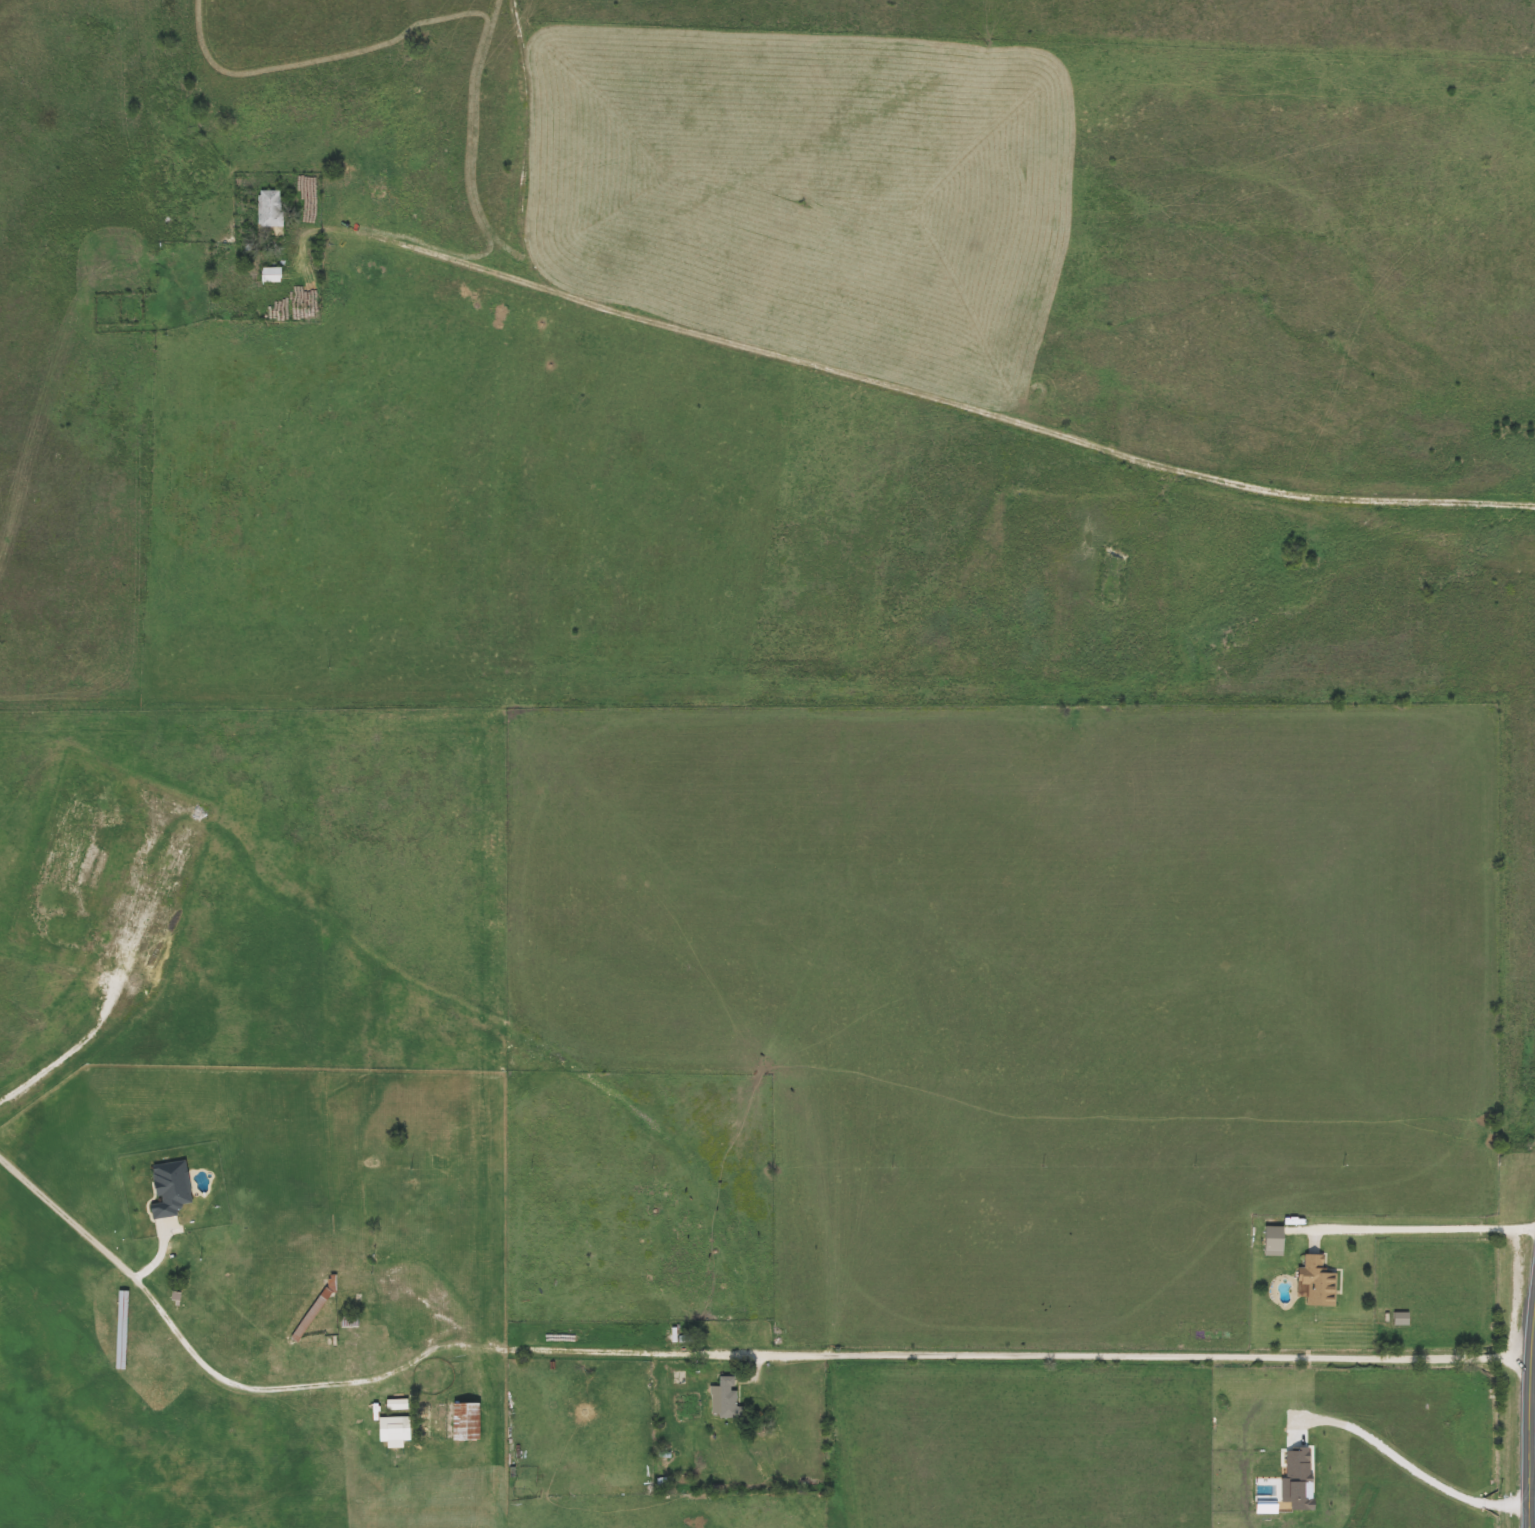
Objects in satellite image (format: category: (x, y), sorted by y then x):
building: (271, 209)
building: (273, 275)
road: (927, 400)
road: (58, 1208)
road: (1415, 1224)
building: (1276, 1241)
building: (1319, 1282)
building: (316, 1309)
building: (1402, 1318)
building: (350, 1321)
building: (122, 1329)
road: (792, 1350)
building: (725, 1398)
building: (397, 1404)
road: (1528, 1404)
building: (456, 1421)
road: (1531, 1466)
road: (1407, 1471)

